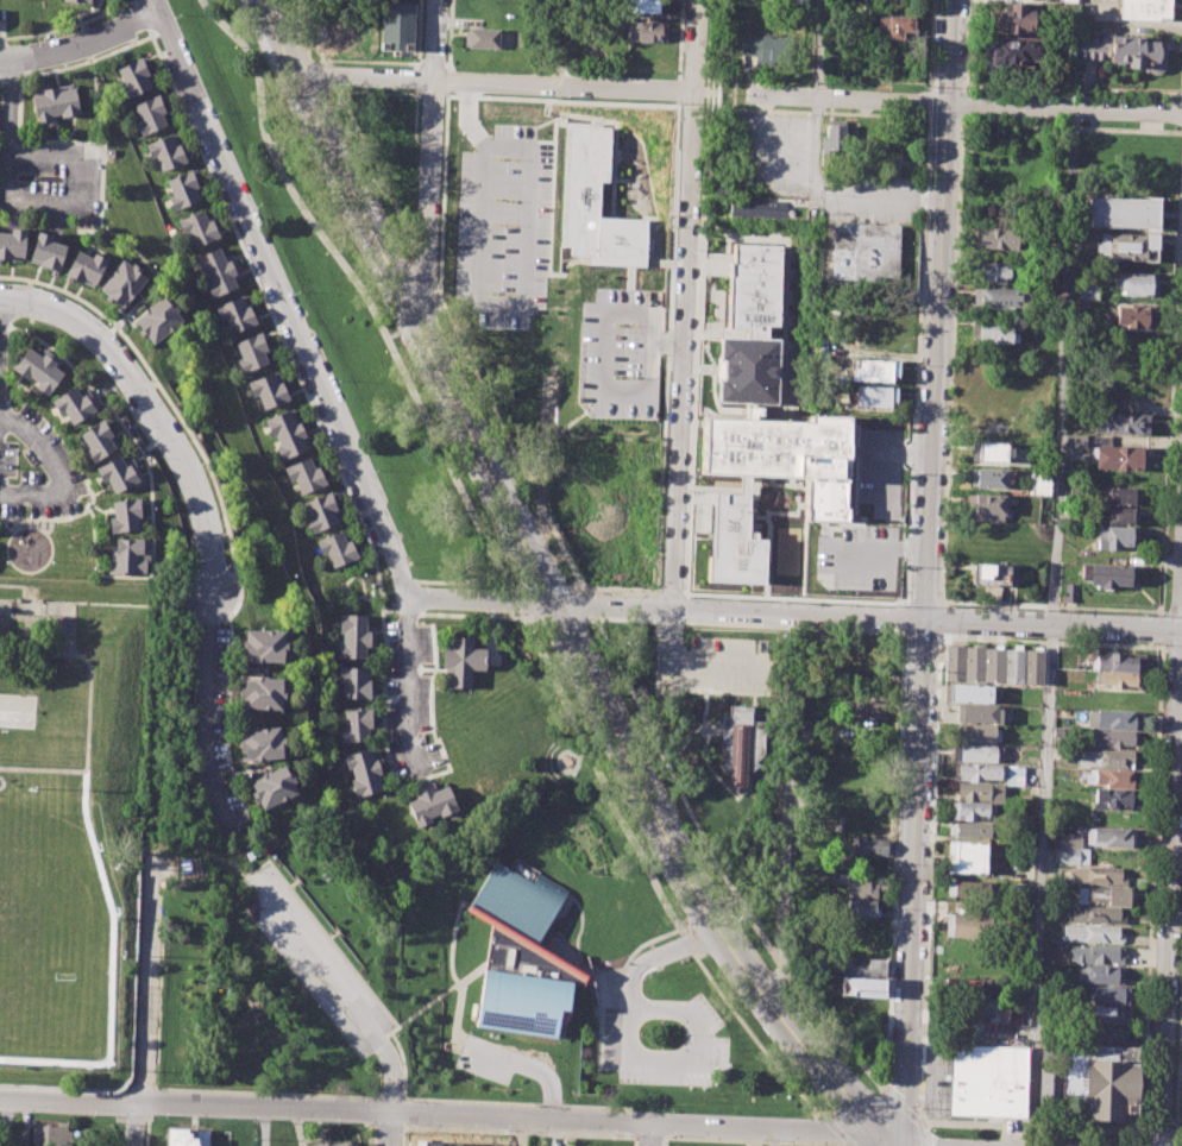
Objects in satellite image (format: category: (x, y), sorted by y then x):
building: (77, 0)
building: (796, 4)
building: (643, 6)
building: (1143, 8)
building: (1017, 17)
building: (396, 25)
building: (894, 29)
building: (647, 31)
road: (448, 34)
building: (489, 38)
road: (679, 39)
road: (435, 40)
road: (81, 42)
road: (929, 44)
road: (966, 45)
road: (694, 46)
building: (765, 48)
road: (821, 50)
building: (1124, 50)
building: (1014, 52)
road: (367, 61)
building: (134, 77)
road: (445, 80)
road: (493, 86)
road: (1073, 88)
road: (678, 89)
road: (944, 89)
road: (706, 92)
road: (445, 93)
road: (733, 93)
road: (715, 94)
road: (10, 102)
building: (55, 102)
road: (963, 106)
building: (149, 114)
road: (928, 114)
road: (929, 115)
road: (944, 117)
road: (960, 117)
road: (467, 120)
road: (1071, 126)
building: (834, 138)
building: (166, 151)
parking lot: (50, 177)
road: (822, 184)
building: (183, 188)
road: (442, 190)
road: (428, 199)
building: (595, 204)
road: (81, 206)
building: (756, 208)
building: (1123, 212)
building: (197, 227)
parking lot: (503, 228)
building: (999, 238)
building: (12, 244)
building: (1126, 246)
building: (46, 250)
building: (863, 250)
road: (671, 260)
road: (920, 262)
building: (84, 267)
building: (219, 271)
building: (994, 271)
building: (121, 283)
building: (1134, 284)
building: (1087, 292)
road: (281, 297)
road: (413, 297)
building: (999, 297)
road: (517, 306)
road: (438, 307)
building: (237, 314)
building: (1130, 316)
building: (158, 319)
road: (415, 320)
building: (995, 330)
road: (391, 334)
road: (666, 344)
road: (683, 351)
building: (252, 352)
parking lot: (618, 354)
road: (950, 358)
road: (602, 360)
building: (38, 367)
building: (868, 371)
road: (1171, 385)
building: (269, 389)
building: (874, 396)
building: (75, 403)
road: (151, 407)
road: (693, 407)
building: (1120, 423)
building: (761, 426)
building: (289, 433)
road: (540, 437)
building: (98, 440)
building: (1075, 440)
road: (906, 452)
building: (994, 452)
road: (444, 454)
building: (1120, 458)
parking lot: (37, 468)
road: (56, 470)
parking lot: (878, 471)
building: (119, 474)
building: (304, 474)
road: (881, 474)
building: (988, 479)
building: (1039, 483)
building: (1118, 495)
park: (605, 505)
building: (983, 508)
building: (323, 510)
building: (125, 515)
building: (1119, 516)
building: (1115, 537)
road: (906, 546)
building: (337, 549)
road: (561, 555)
building: (128, 556)
parking lot: (856, 558)
road: (837, 565)
road: (924, 572)
building: (995, 574)
building: (1109, 575)
road: (641, 588)
building: (1070, 592)
road: (29, 594)
road: (479, 598)
road: (922, 603)
road: (943, 603)
road: (1054, 606)
building: (6, 607)
road: (48, 607)
road: (68, 611)
road: (867, 616)
road: (1181, 617)
road: (42, 618)
road: (942, 619)
road: (1051, 628)
road: (1161, 629)
road: (942, 635)
building: (354, 636)
building: (264, 644)
road: (67, 647)
road: (1174, 647)
building: (460, 661)
building: (1120, 661)
road: (691, 663)
building: (952, 663)
parking lot: (715, 665)
building: (974, 665)
building: (994, 665)
building: (1013, 666)
building: (1035, 667)
building: (1121, 680)
building: (354, 682)
road: (408, 687)
building: (262, 693)
building: (967, 693)
parking lot: (409, 698)
building: (1119, 699)
building: (870, 707)
park: (17, 710)
road: (208, 710)
road: (87, 712)
building: (979, 712)
building: (1113, 719)
building: (356, 725)
building: (976, 732)
building: (1061, 733)
building: (1111, 738)
building: (262, 742)
building: (741, 745)
building: (976, 753)
building: (1117, 758)
road: (935, 768)
building: (365, 770)
building: (987, 773)
building: (1113, 779)
road: (2, 781)
building: (274, 788)
building: (980, 792)
building: (1114, 799)
building: (430, 804)
building: (972, 812)
building: (969, 829)
road: (784, 835)
building: (1112, 837)
building: (1069, 839)
park: (71, 840)
building: (868, 846)
park: (26, 855)
building: (1073, 856)
building: (973, 857)
building: (1099, 876)
building: (1124, 879)
road: (691, 882)
building: (861, 884)
road: (1169, 887)
building: (969, 888)
road: (1152, 888)
building: (1102, 895)
building: (861, 908)
street lamp: (1180, 913)
building: (1098, 915)
building: (968, 925)
building: (1093, 933)
road: (702, 937)
building: (1096, 955)
road: (317, 956)
parking lot: (315, 957)
building: (523, 957)
building: (861, 966)
building: (1099, 974)
road: (454, 976)
road: (629, 986)
building: (964, 987)
building: (862, 988)
building: (1109, 995)
park: (24, 1003)
street lamp: (1176, 1005)
building: (973, 1008)
road: (146, 1009)
road: (417, 1010)
building: (1109, 1015)
building: (1107, 1033)
road: (698, 1037)
parking lot: (705, 1040)
road: (759, 1041)
road: (402, 1063)
road: (527, 1064)
building: (1074, 1073)
road: (873, 1076)
building: (988, 1081)
building: (1112, 1083)
building: (1050, 1088)
road: (196, 1089)
road: (390, 1098)
road: (518, 1102)
street lamp: (919, 1108)
road: (388, 1110)
road: (405, 1113)
road: (6, 1122)
street lamp: (1171, 1125)
road: (263, 1126)
road: (389, 1128)
road: (805, 1128)
road: (857, 1129)
road: (511, 1132)
road: (520, 1132)
road: (650, 1133)
building: (49, 1134)
road: (774, 1135)
building: (186, 1136)
road: (650, 1136)
road: (887, 1138)
road: (1161, 1139)
road: (635, 1141)
road: (664, 1141)
road: (759, 1141)
building: (316, 1142)
building: (339, 1144)
road: (1139, 1144)
street lamp: (843, 1145)

